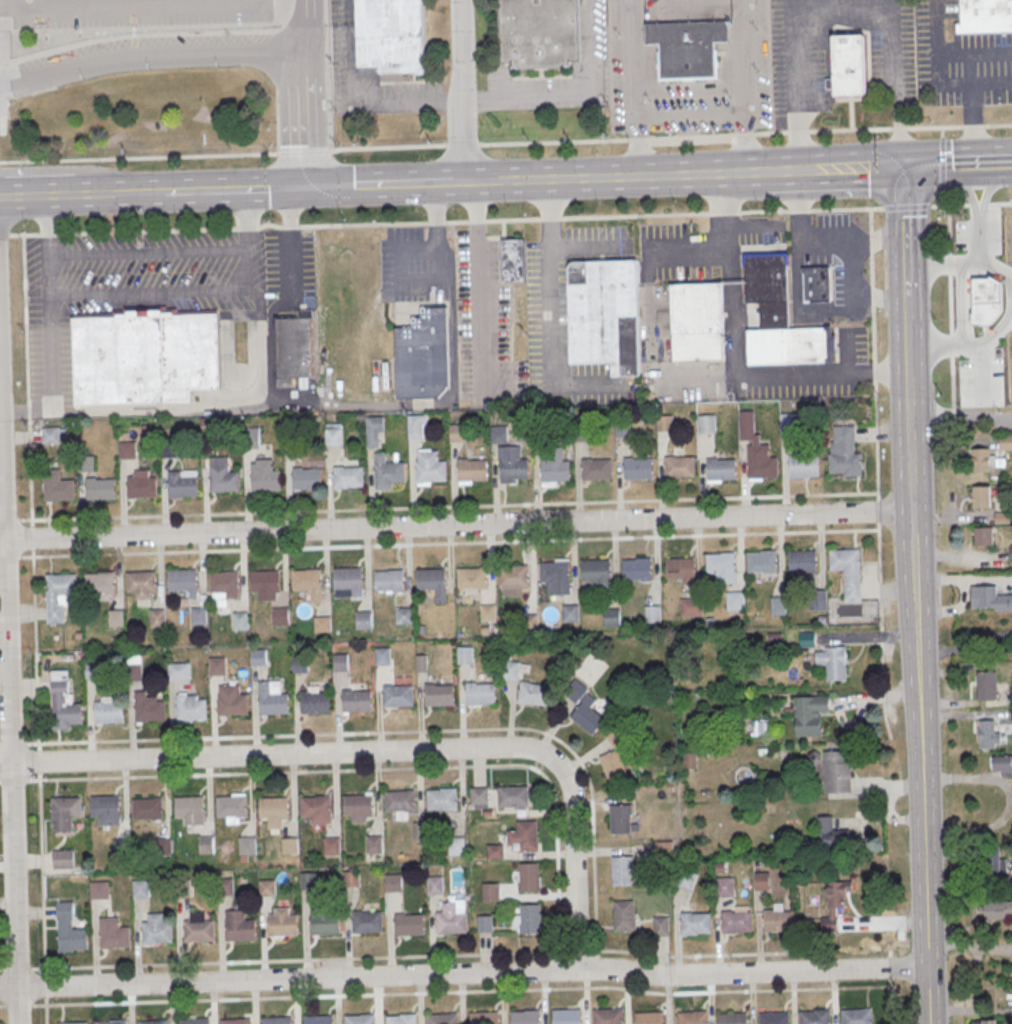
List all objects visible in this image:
road: (137, 6)
road: (845, 15)
building: (986, 16)
building: (540, 33)
building: (391, 35)
building: (688, 47)
road: (150, 48)
road: (952, 52)
parking lot: (802, 61)
parking lot: (958, 61)
building: (849, 66)
road: (936, 76)
road: (971, 87)
road: (462, 90)
road: (572, 92)
road: (305, 93)
road: (361, 100)
road: (691, 111)
road: (505, 146)
road: (957, 164)
traffic signals: (902, 166)
road: (858, 167)
road: (790, 170)
road: (635, 175)
road: (484, 181)
road: (385, 184)
traffic signals: (307, 187)
road: (235, 188)
road: (966, 188)
road: (992, 188)
road: (139, 192)
road: (36, 194)
road: (94, 194)
road: (446, 221)
road: (748, 229)
road: (11, 235)
road: (980, 237)
road: (904, 241)
road: (817, 243)
road: (588, 244)
road: (290, 247)
road: (690, 255)
building: (513, 260)
road: (970, 261)
road: (932, 263)
parking lot: (416, 267)
parking lot: (290, 268)
road: (996, 270)
road: (399, 272)
road: (450, 284)
building: (817, 285)
road: (477, 287)
parking lot: (131, 289)
road: (150, 295)
road: (852, 297)
road: (961, 303)
road: (799, 306)
building: (605, 315)
road: (551, 316)
building: (780, 319)
building: (698, 323)
parking lot: (485, 327)
road: (996, 331)
road: (906, 345)
road: (943, 345)
building: (294, 349)
building: (145, 356)
building: (423, 356)
road: (848, 358)
road: (736, 360)
road: (982, 373)
road: (960, 419)
building: (789, 423)
building: (543, 424)
building: (665, 424)
building: (707, 424)
building: (623, 429)
building: (417, 430)
building: (374, 432)
building: (457, 433)
building: (583, 433)
building: (50, 434)
building: (499, 435)
building: (334, 437)
building: (252, 440)
road: (909, 442)
building: (1005, 443)
building: (127, 450)
building: (846, 453)
building: (981, 461)
building: (86, 463)
building: (762, 463)
building: (513, 464)
building: (555, 467)
building: (680, 467)
building: (804, 467)
building: (431, 468)
building: (638, 468)
building: (597, 469)
building: (721, 469)
building: (472, 470)
building: (388, 472)
building: (223, 476)
building: (349, 477)
building: (307, 479)
building: (265, 480)
building: (183, 486)
building: (58, 488)
building: (142, 488)
building: (100, 490)
building: (982, 498)
road: (32, 519)
road: (15, 520)
road: (457, 523)
road: (912, 524)
building: (984, 537)
road: (2, 538)
building: (1011, 551)
building: (803, 561)
building: (763, 562)
building: (721, 564)
building: (638, 569)
building: (597, 570)
building: (683, 570)
building: (849, 571)
building: (514, 577)
building: (557, 577)
building: (348, 578)
building: (473, 578)
building: (431, 579)
building: (182, 580)
building: (307, 580)
building: (390, 581)
building: (266, 582)
building: (142, 583)
building: (224, 583)
building: (100, 584)
building: (61, 585)
road: (914, 596)
building: (990, 599)
building: (818, 600)
building: (736, 602)
building: (778, 606)
building: (692, 608)
building: (489, 614)
building: (570, 614)
building: (653, 615)
building: (199, 617)
building: (281, 617)
building: (404, 617)
building: (613, 618)
building: (158, 619)
building: (116, 620)
building: (363, 620)
building: (241, 622)
building: (322, 623)
building: (529, 623)
road: (34, 633)
road: (965, 647)
building: (465, 656)
building: (383, 657)
building: (258, 658)
building: (833, 663)
building: (343, 664)
building: (300, 665)
building: (217, 667)
building: (510, 669)
building: (92, 672)
building: (178, 672)
building: (133, 673)
building: (987, 686)
building: (481, 694)
building: (533, 694)
building: (439, 695)
building: (398, 696)
road: (8, 700)
building: (356, 701)
building: (315, 703)
building: (273, 704)
building: (233, 705)
building: (65, 707)
building: (584, 708)
building: (191, 709)
building: (150, 711)
building: (108, 713)
building: (811, 715)
building: (987, 734)
road: (253, 736)
road: (18, 745)
road: (231, 756)
building: (616, 760)
building: (1001, 765)
building: (837, 771)
road: (184, 775)
road: (885, 776)
road: (19, 780)
building: (513, 796)
building: (479, 797)
building: (442, 800)
building: (400, 802)
building: (358, 806)
building: (105, 807)
building: (231, 807)
building: (190, 808)
building: (316, 808)
building: (274, 809)
building: (147, 810)
road: (923, 810)
building: (65, 814)
road: (572, 816)
building: (621, 819)
building: (829, 830)
building: (524, 836)
building: (206, 844)
building: (373, 844)
building: (247, 845)
building: (289, 845)
building: (331, 846)
building: (456, 846)
building: (63, 859)
building: (622, 870)
building: (529, 877)
building: (308, 881)
building: (761, 881)
building: (393, 882)
building: (723, 882)
building: (434, 885)
building: (99, 889)
building: (140, 889)
building: (490, 892)
building: (834, 903)
building: (996, 908)
building: (624, 915)
building: (528, 919)
building: (367, 923)
building: (484, 923)
building: (738, 923)
building: (779, 923)
building: (452, 924)
building: (282, 925)
building: (325, 925)
building: (661, 925)
building: (697, 925)
building: (409, 926)
building: (240, 927)
building: (157, 931)
building: (199, 933)
building: (114, 935)
building: (73, 941)
road: (414, 956)
road: (21, 968)
road: (471, 974)
road: (44, 986)
road: (8, 988)
road: (446, 991)
road: (927, 996)
road: (45, 1001)
road: (22, 1005)
building: (567, 1016)
building: (608, 1016)
building: (484, 1017)
building: (525, 1017)
building: (648, 1017)
building: (692, 1017)
building: (816, 1017)
building: (857, 1017)
building: (443, 1018)
building: (732, 1018)
building: (773, 1018)
building: (318, 1019)
building: (359, 1019)
building: (401, 1019)
building: (276, 1020)
building: (194, 1021)
building: (235, 1021)
building: (73, 1022)
building: (112, 1022)
building: (153, 1022)
building: (984, 1022)

